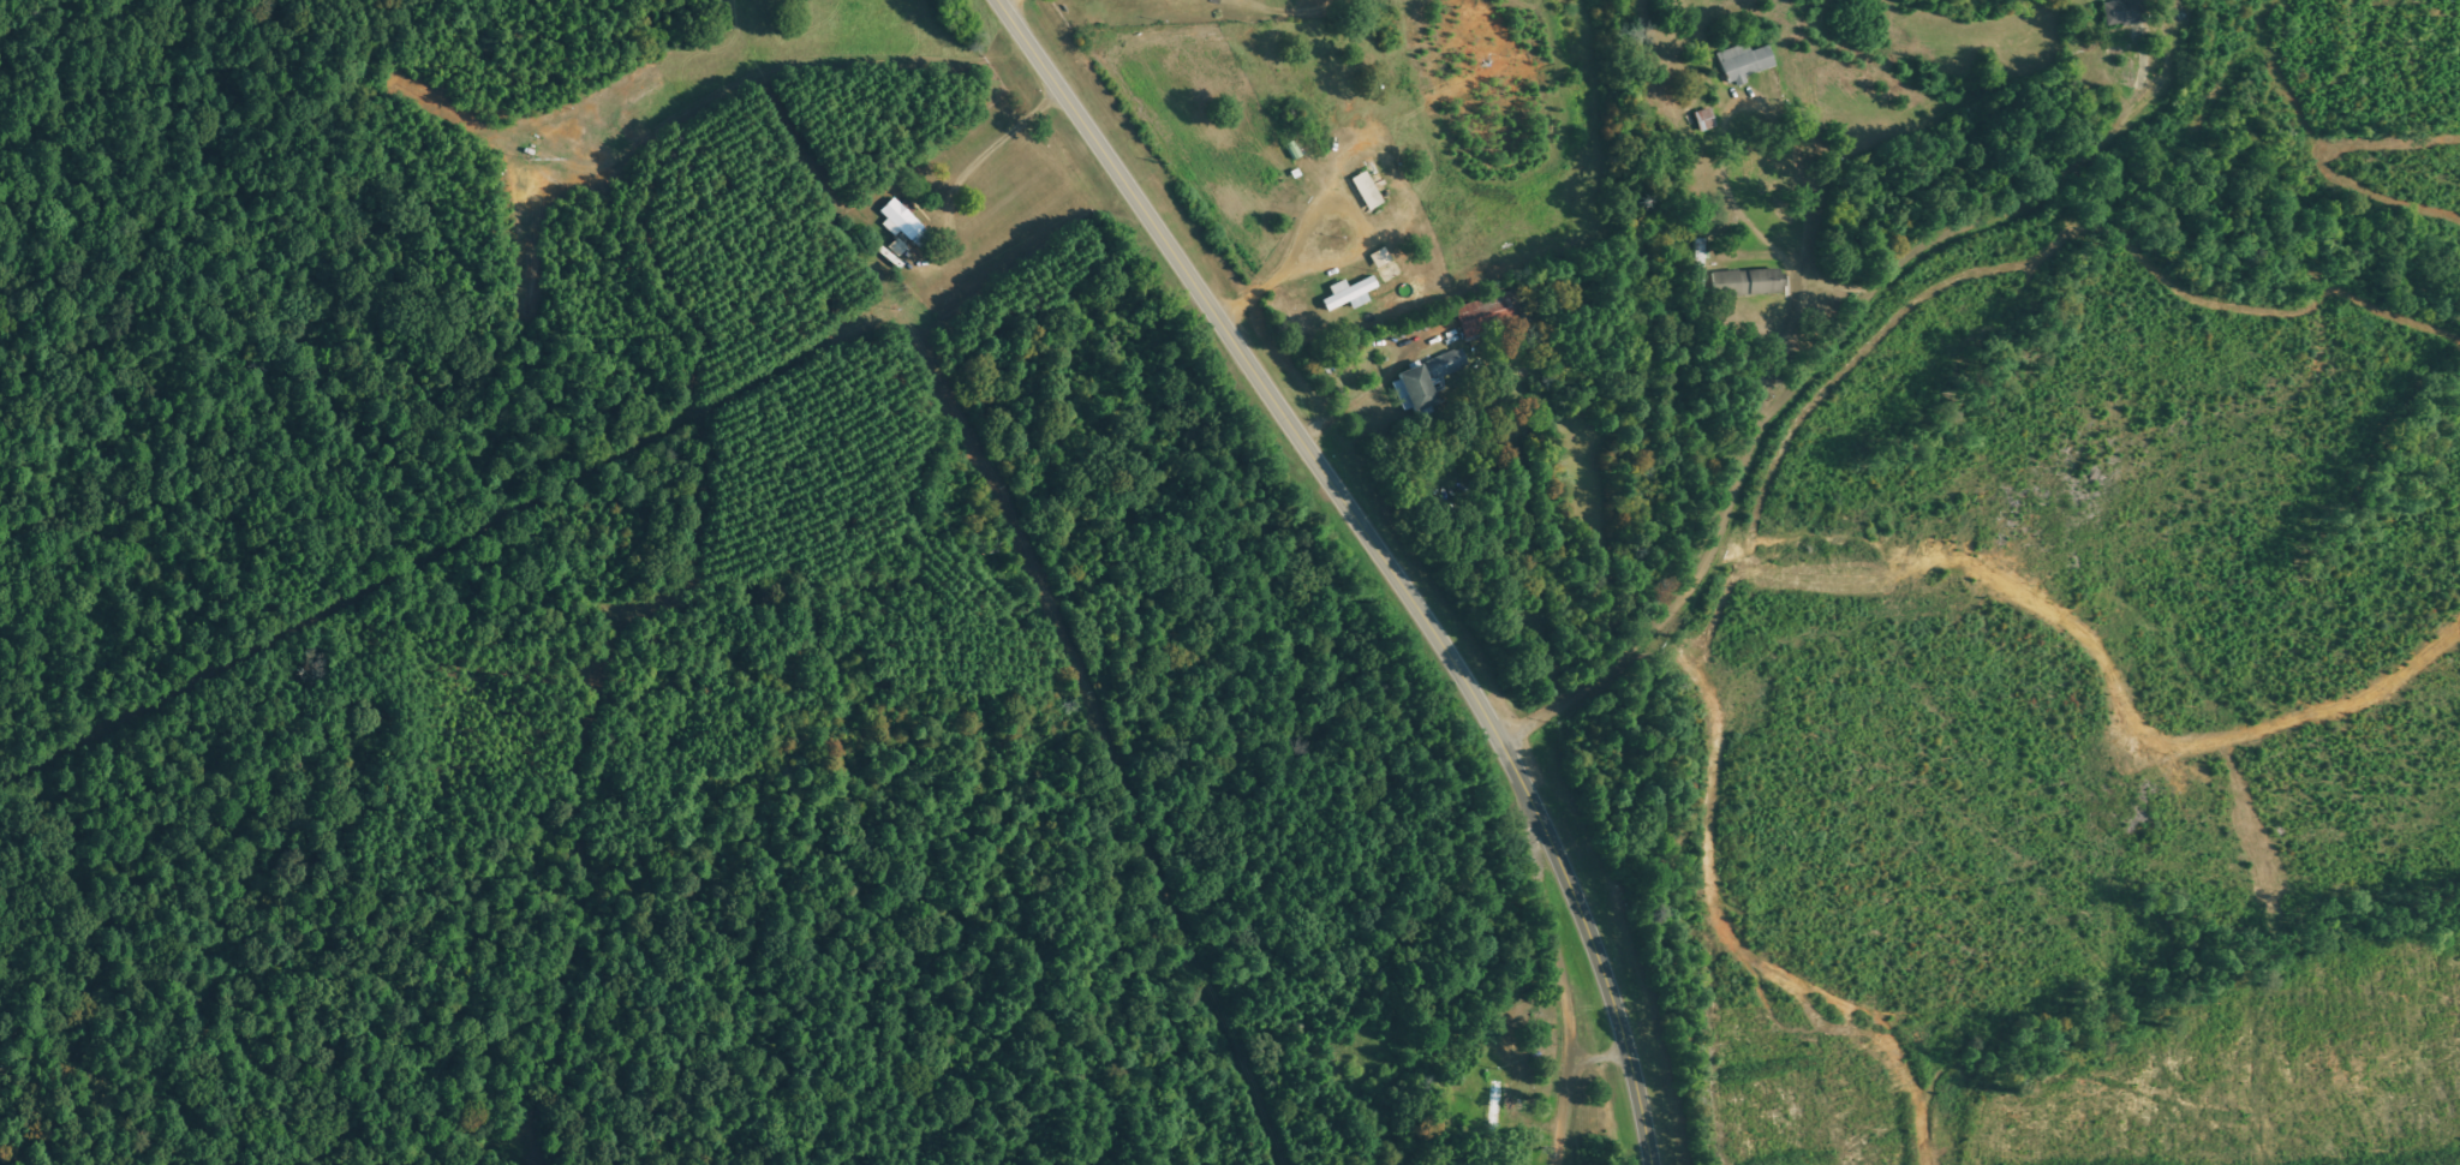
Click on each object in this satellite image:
building: (2126, 12)
building: (1745, 62)
building: (1368, 191)
building: (898, 247)
road: (1948, 249)
building: (1381, 258)
building: (1747, 283)
building: (1350, 294)
building: (1427, 380)
road: (1732, 471)
road: (1379, 554)
road: (1534, 1094)

